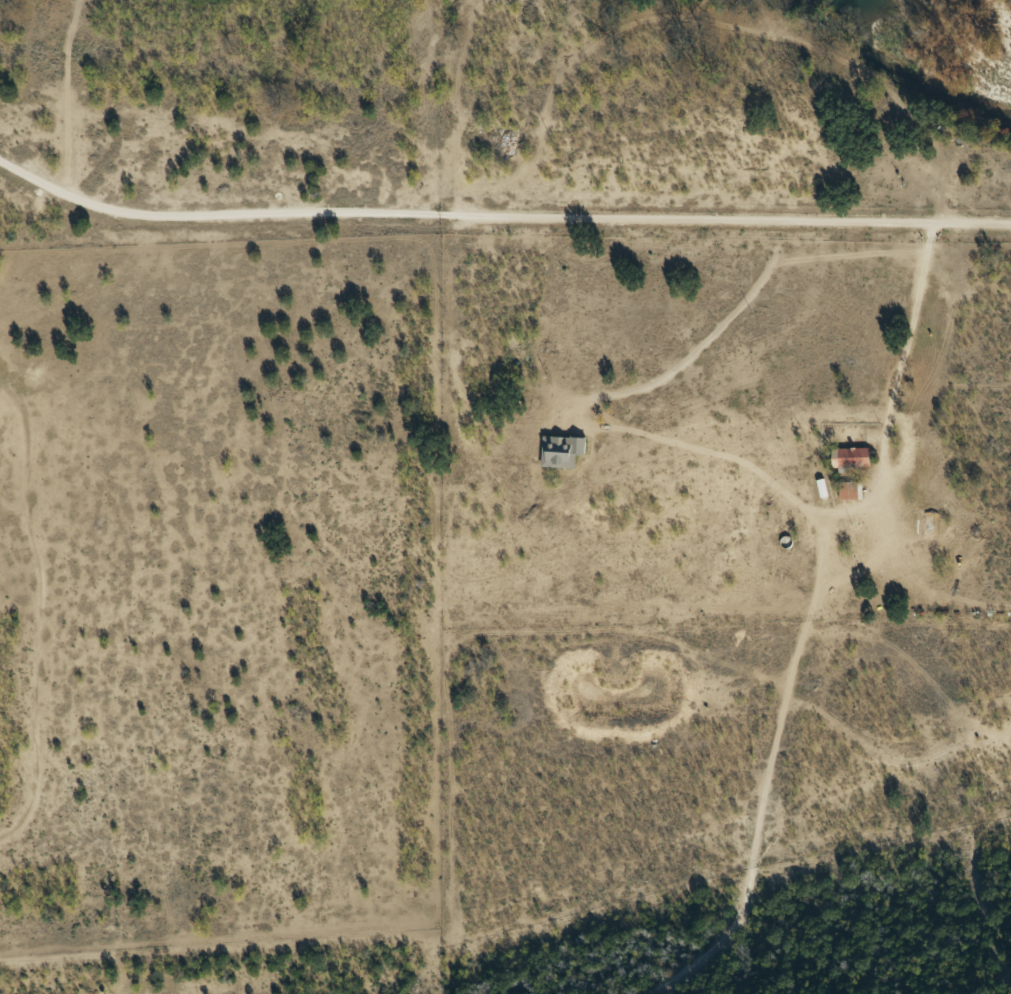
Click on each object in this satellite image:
river: (861, 1)
river: (910, 85)
road: (505, 213)
building: (561, 451)
building: (853, 459)
building: (849, 491)
building: (926, 530)
road: (28, 542)

